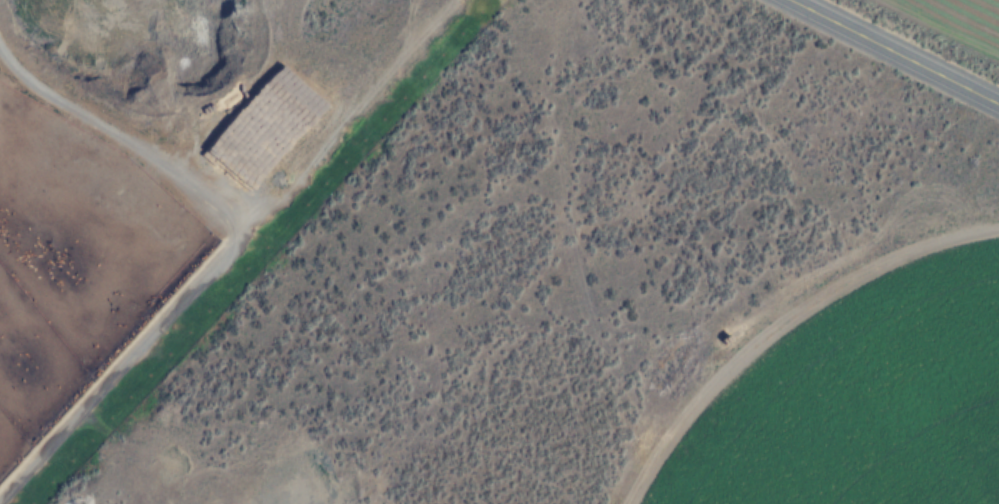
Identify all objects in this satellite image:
crop: (969, 14)
road: (894, 52)

